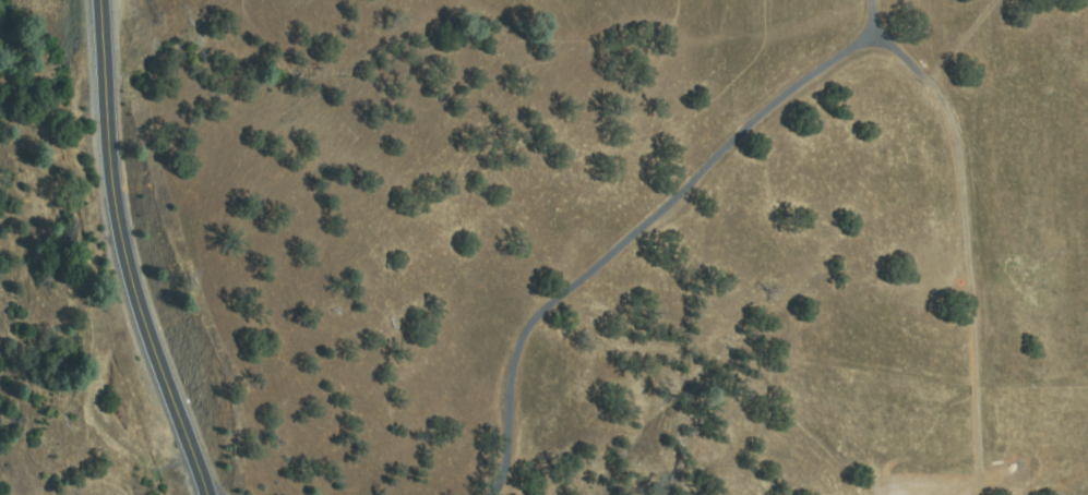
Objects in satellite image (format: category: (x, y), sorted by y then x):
road: (127, 253)

